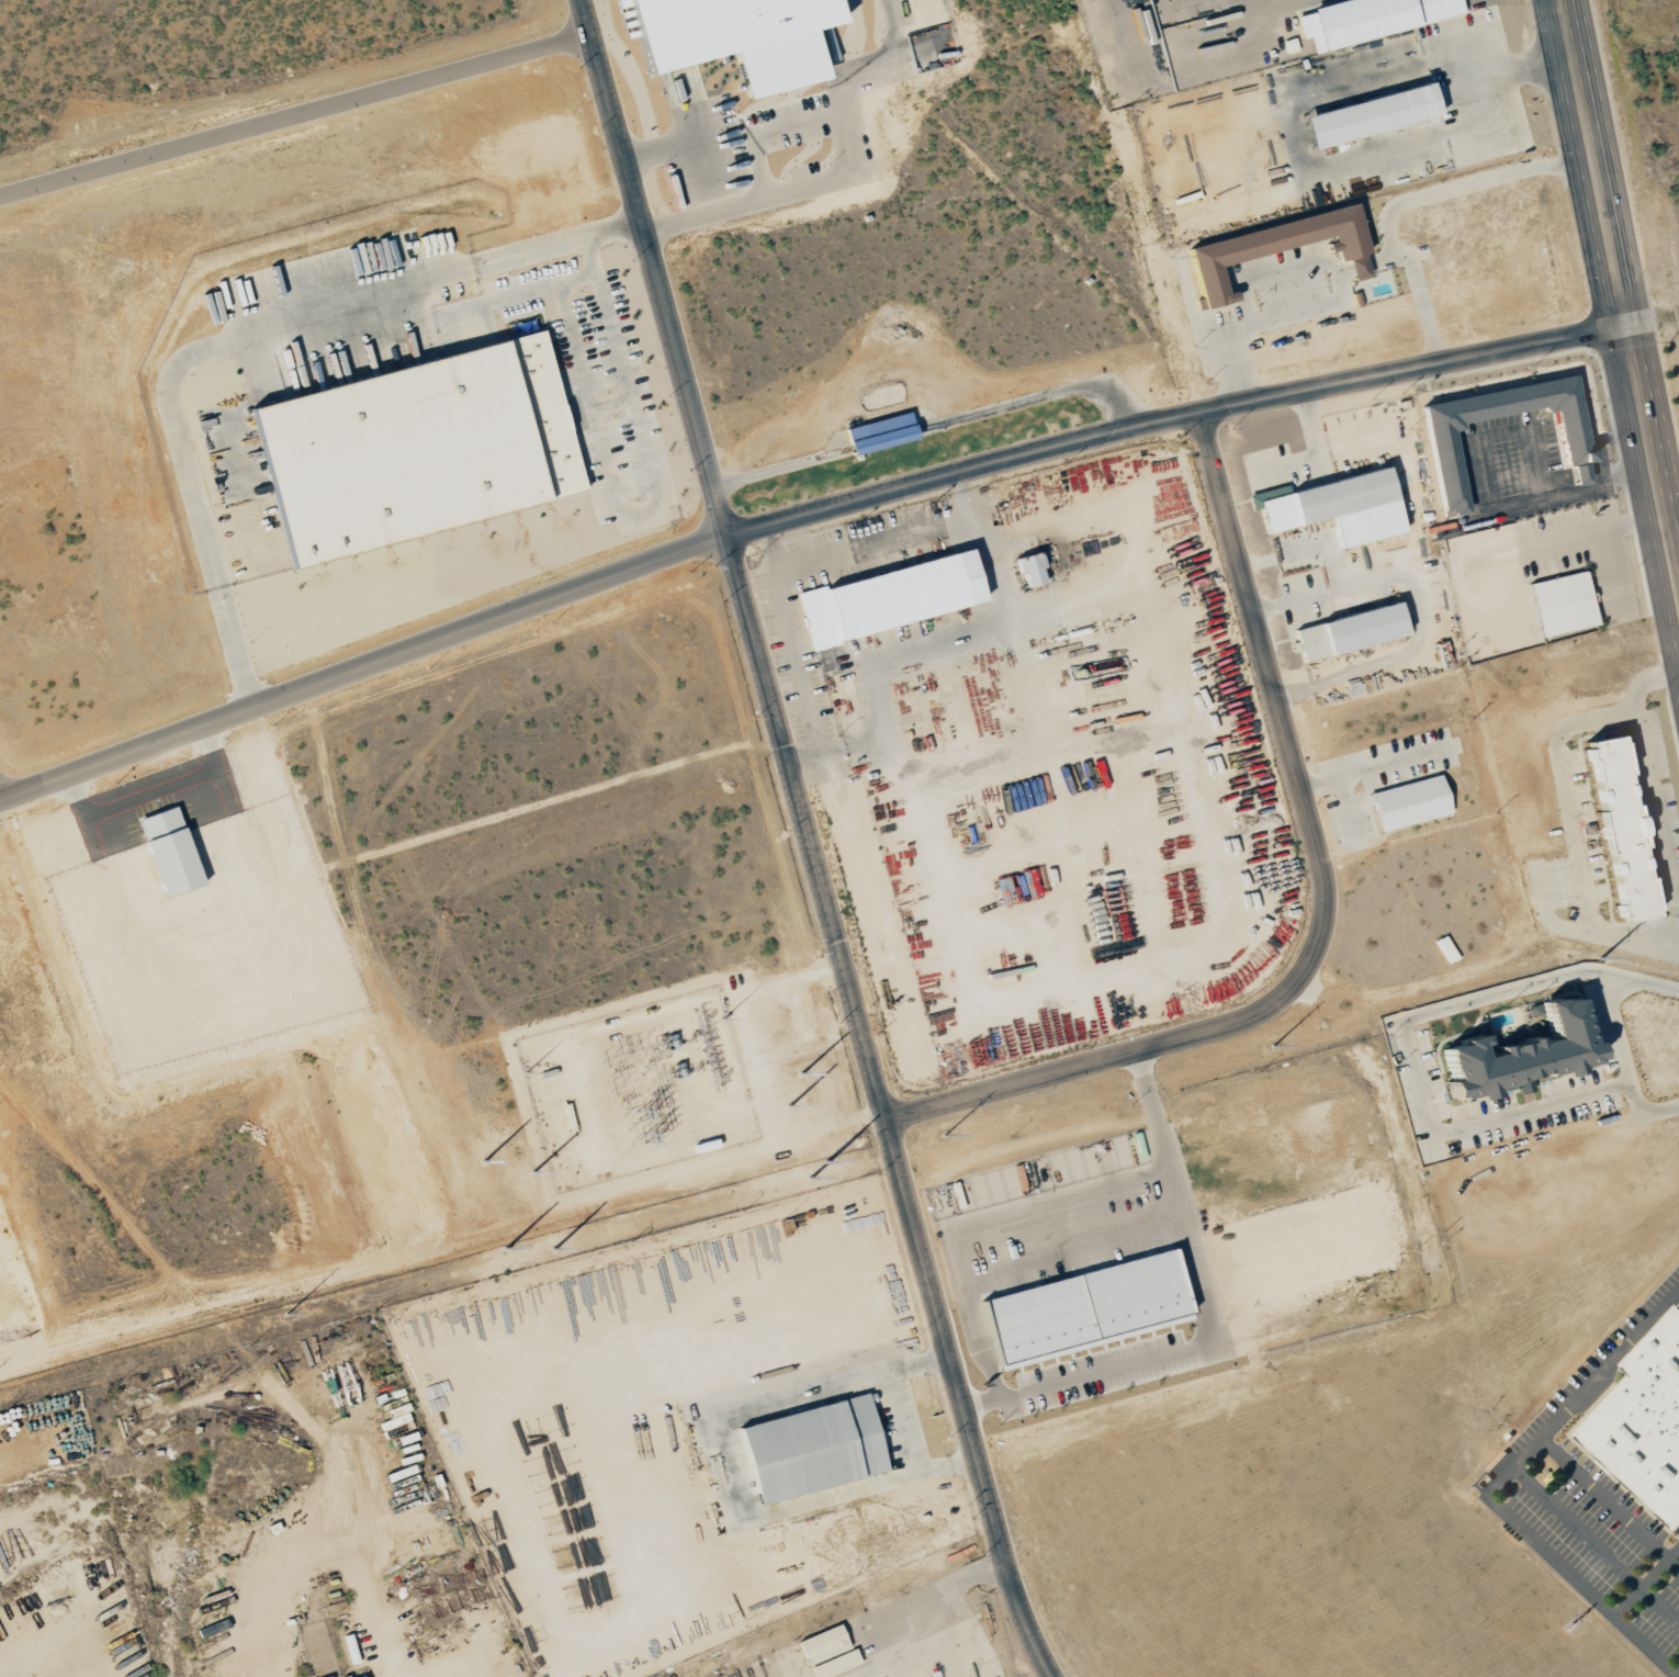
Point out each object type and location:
building: (1367, 19)
building: (735, 37)
building: (1368, 114)
road: (763, 132)
road: (671, 147)
road: (837, 168)
road: (1465, 184)
road: (612, 229)
building: (1272, 246)
road: (537, 249)
road: (491, 260)
building: (1357, 267)
road: (1618, 297)
road: (1239, 320)
road: (213, 346)
road: (1173, 418)
building: (865, 436)
building: (1573, 446)
building: (415, 447)
road: (1312, 454)
building: (1336, 507)
road: (644, 509)
road: (1674, 545)
road: (1284, 556)
building: (1030, 570)
road: (1417, 577)
road: (215, 578)
road: (1332, 593)
building: (889, 598)
building: (1562, 604)
building: (1349, 631)
road: (796, 640)
road: (237, 660)
road: (364, 674)
building: (842, 691)
building: (1409, 802)
building: (1616, 830)
road: (813, 842)
building: (169, 852)
road: (1320, 907)
road: (1244, 942)
power tower: (1593, 958)
power tower: (1265, 1047)
building: (1518, 1051)
power tower: (937, 1137)
power tower: (608, 1226)
road: (1016, 1260)
building: (1085, 1308)
power tower: (279, 1315)
road: (1205, 1315)
building: (1646, 1420)
road: (899, 1425)
building: (812, 1448)
road: (1529, 1463)
road: (733, 1467)
building: (822, 1644)
building: (834, 1664)
building: (360, 1676)

